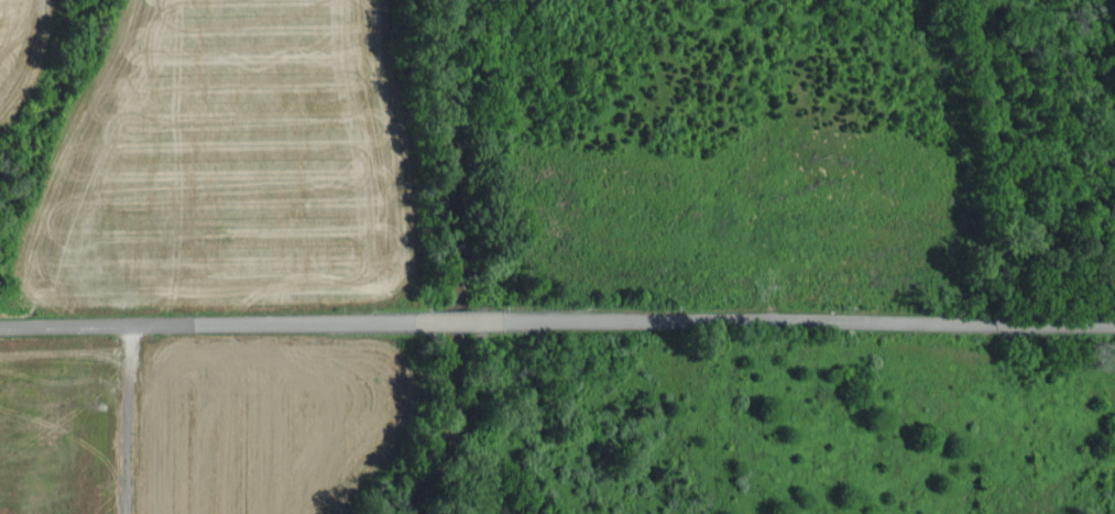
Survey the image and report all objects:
road: (557, 318)

